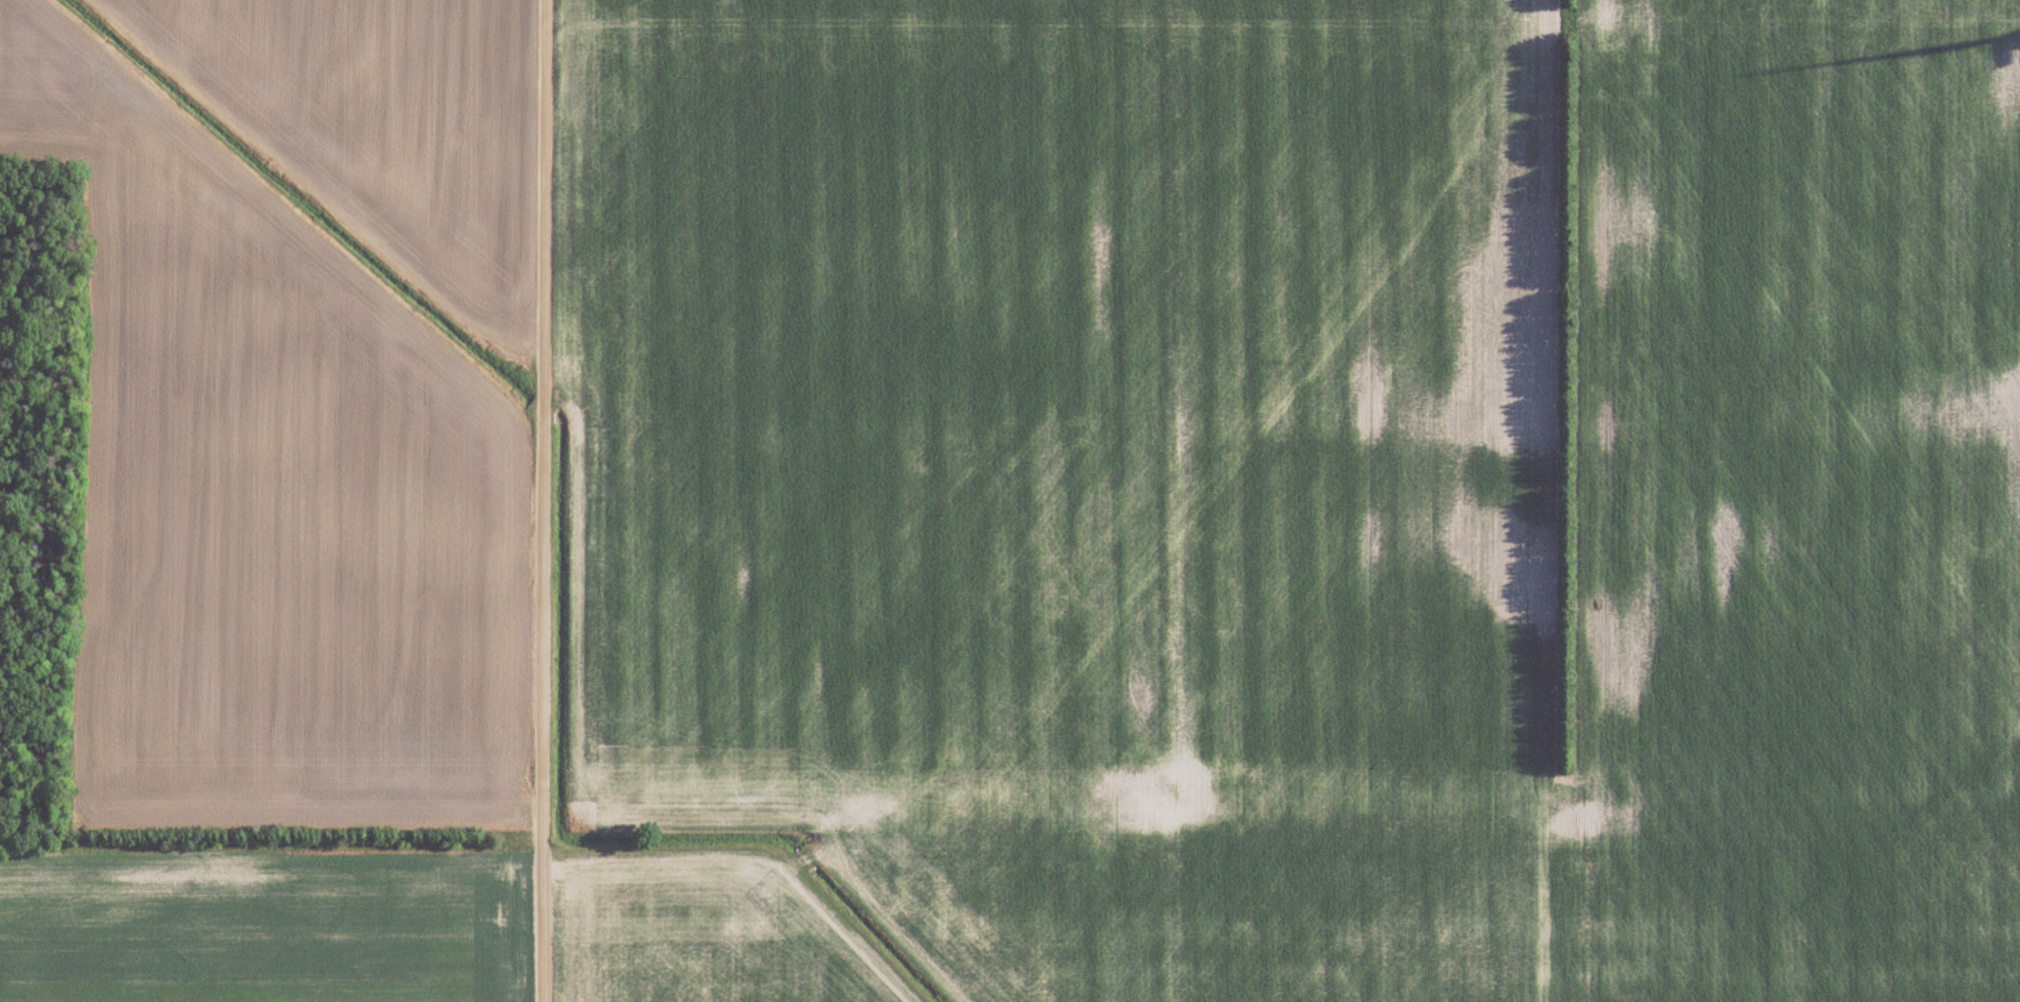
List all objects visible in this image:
road: (543, 500)

